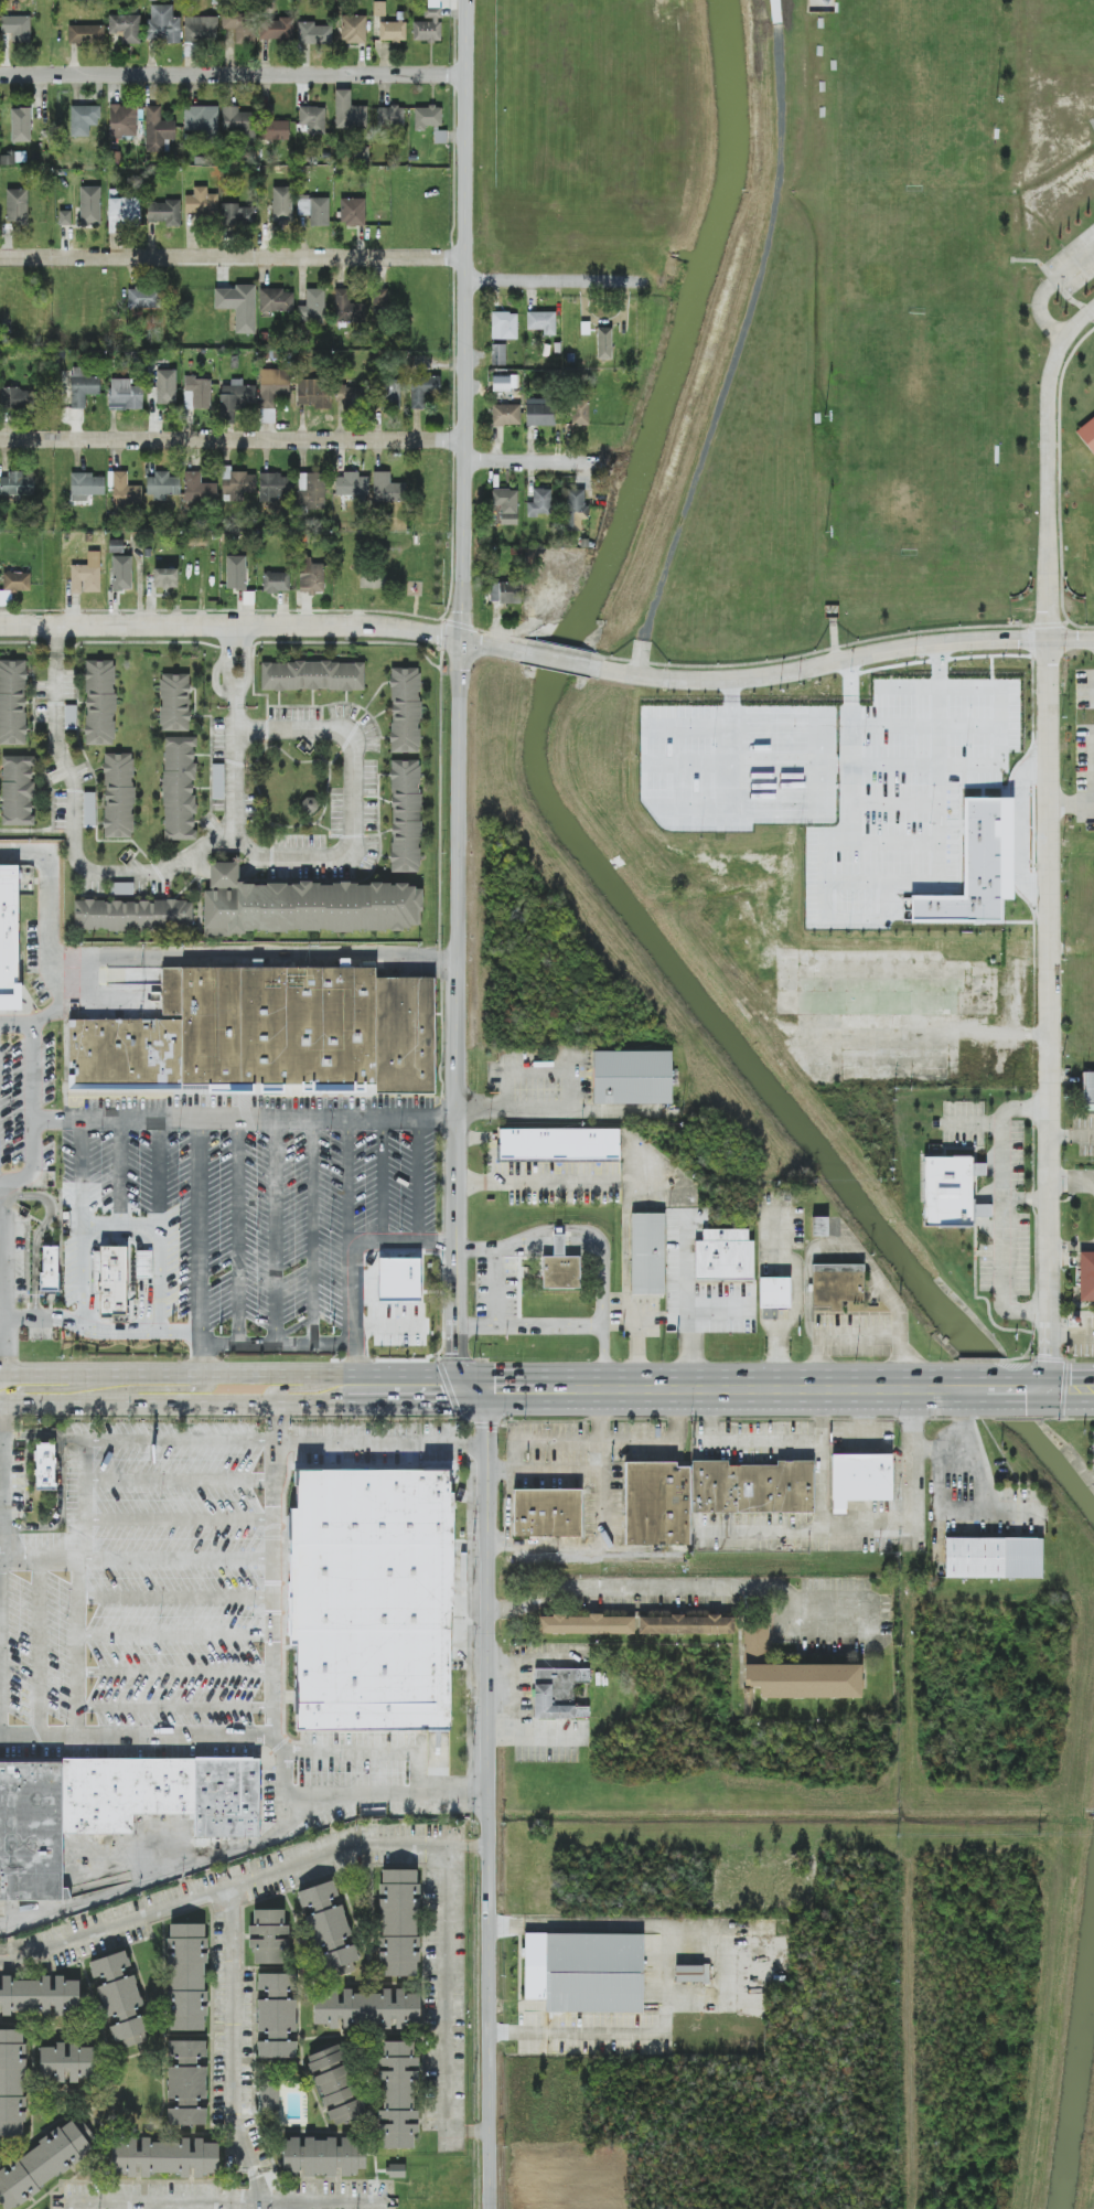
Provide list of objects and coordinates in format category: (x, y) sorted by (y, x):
building: (379, 8)
building: (429, 23)
building: (163, 24)
building: (240, 26)
building: (17, 28)
building: (126, 28)
building: (276, 29)
building: (201, 30)
building: (353, 30)
building: (392, 31)
building: (313, 33)
building: (85, 34)
road: (233, 75)
park: (915, 92)
street lamp: (997, 103)
building: (348, 111)
building: (390, 116)
building: (427, 117)
building: (83, 119)
building: (312, 119)
building: (201, 121)
building: (122, 122)
road: (1092, 122)
building: (238, 124)
building: (21, 125)
road: (465, 128)
building: (158, 129)
building: (276, 130)
building: (361, 153)
building: (20, 157)
building: (201, 202)
building: (17, 205)
building: (282, 205)
building: (89, 206)
building: (314, 210)
building: (122, 212)
building: (163, 212)
building: (353, 212)
building: (238, 215)
building: (64, 217)
road: (232, 256)
road: (463, 268)
road: (551, 281)
road: (1054, 281)
road: (1047, 288)
building: (143, 298)
building: (275, 300)
building: (380, 300)
building: (313, 305)
building: (238, 306)
building: (348, 308)
building: (541, 321)
road: (743, 324)
building: (504, 326)
building: (604, 343)
building: (498, 354)
road: (462, 360)
building: (501, 383)
building: (165, 386)
building: (83, 387)
building: (422, 389)
building: (271, 392)
building: (196, 393)
building: (314, 393)
building: (394, 394)
building: (125, 395)
building: (350, 396)
building: (17, 398)
building: (235, 399)
building: (540, 412)
building: (579, 413)
building: (506, 415)
street lamp: (826, 415)
park: (911, 431)
building: (1087, 435)
road: (230, 439)
road: (461, 450)
road: (517, 461)
road: (1048, 466)
building: (17, 484)
building: (237, 484)
building: (351, 484)
building: (86, 485)
building: (162, 487)
building: (272, 487)
building: (387, 488)
building: (199, 489)
building: (126, 491)
building: (311, 491)
building: (539, 503)
building: (505, 506)
building: (573, 509)
street lamp: (826, 534)
building: (116, 546)
building: (121, 573)
building: (236, 573)
building: (86, 575)
building: (165, 578)
building: (313, 578)
building: (17, 581)
building: (276, 581)
building: (505, 593)
road: (229, 626)
road: (486, 644)
road: (641, 657)
road: (555, 658)
road: (844, 659)
road: (226, 660)
road: (248, 661)
building: (312, 675)
road: (215, 683)
road: (236, 700)
building: (12, 702)
building: (99, 702)
building: (174, 702)
building: (405, 709)
road: (851, 714)
building: (69, 716)
road: (236, 717)
road: (854, 771)
building: (217, 781)
building: (179, 788)
building: (18, 790)
building: (118, 796)
road: (1072, 802)
building: (310, 805)
building: (88, 809)
building: (405, 815)
road: (249, 849)
road: (199, 865)
road: (251, 866)
road: (224, 872)
road: (55, 877)
building: (122, 888)
building: (308, 906)
building: (132, 915)
road: (459, 926)
building: (14, 946)
road: (257, 958)
road: (1050, 1014)
road: (17, 1027)
building: (267, 1033)
road: (33, 1064)
building: (923, 1070)
building: (632, 1077)
building: (1087, 1091)
road: (514, 1107)
road: (245, 1118)
road: (1072, 1136)
building: (558, 1143)
road: (489, 1144)
road: (81, 1180)
road: (121, 1180)
road: (348, 1180)
road: (382, 1180)
road: (420, 1180)
road: (535, 1181)
road: (1072, 1182)
road: (14, 1185)
building: (952, 1192)
building: (1093, 1224)
building: (819, 1227)
road: (276, 1230)
road: (312, 1230)
road: (37, 1231)
road: (160, 1231)
road: (239, 1231)
road: (119, 1240)
road: (403, 1242)
road: (1072, 1245)
road: (505, 1246)
road: (558, 1247)
road: (839, 1250)
building: (647, 1253)
road: (200, 1255)
building: (723, 1255)
building: (143, 1264)
building: (560, 1267)
building: (50, 1269)
building: (1086, 1276)
building: (110, 1280)
building: (836, 1284)
road: (495, 1285)
road: (74, 1291)
building: (774, 1292)
building: (401, 1308)
road: (687, 1312)
road: (350, 1315)
road: (599, 1315)
road: (36, 1317)
road: (476, 1325)
road: (1072, 1336)
road: (212, 1344)
road: (389, 1349)
road: (603, 1352)
road: (139, 1389)
road: (624, 1390)
road: (996, 1390)
traffic signals: (1051, 1390)
road: (1059, 1390)
road: (913, 1421)
road: (42, 1431)
road: (181, 1438)
road: (663, 1440)
road: (545, 1441)
road: (384, 1442)
road: (974, 1450)
road: (889, 1451)
building: (45, 1466)
road: (545, 1470)
road: (181, 1480)
building: (859, 1481)
building: (707, 1494)
road: (83, 1501)
road: (508, 1506)
building: (547, 1512)
road: (182, 1519)
road: (604, 1530)
building: (993, 1558)
road: (180, 1561)
road: (39, 1562)
road: (679, 1591)
road: (180, 1597)
building: (378, 1597)
building: (586, 1623)
building: (685, 1623)
road: (180, 1636)
road: (42, 1653)
road: (77, 1653)
road: (180, 1672)
building: (791, 1674)
road: (1, 1683)
building: (558, 1693)
road: (282, 1706)
road: (180, 1707)
road: (371, 1752)
building: (163, 1795)
road: (343, 1795)
road: (489, 1800)
building: (32, 1831)
road: (147, 1882)
road: (243, 1888)
building: (399, 1922)
building: (330, 1928)
building: (269, 1935)
road: (738, 1965)
building: (584, 1972)
building: (691, 1973)
building: (186, 1975)
building: (40, 1995)
building: (120, 1998)
building: (366, 2008)
road: (446, 2010)
building: (276, 2016)
road: (229, 2055)
building: (66, 2061)
building: (12, 2082)
building: (186, 2082)
building: (335, 2085)
building: (397, 2094)
building: (268, 2096)
building: (321, 2155)
building: (164, 2156)
building: (42, 2164)
building: (396, 2170)
road: (217, 2205)

